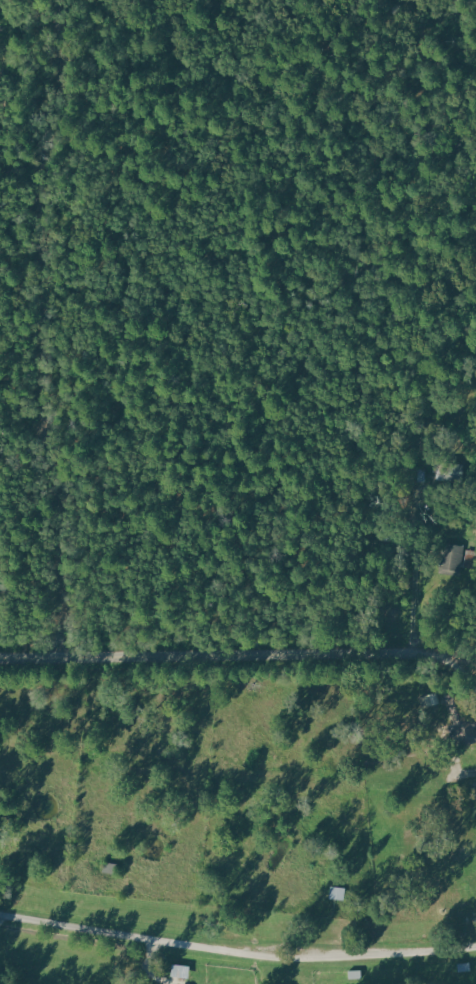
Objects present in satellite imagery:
road: (434, 69)
road: (34, 328)
building: (431, 477)
building: (454, 554)
road: (413, 572)
road: (457, 652)
road: (239, 655)
building: (430, 700)
building: (463, 722)
road: (458, 772)
road: (237, 954)
building: (180, 971)
road: (0, 979)

